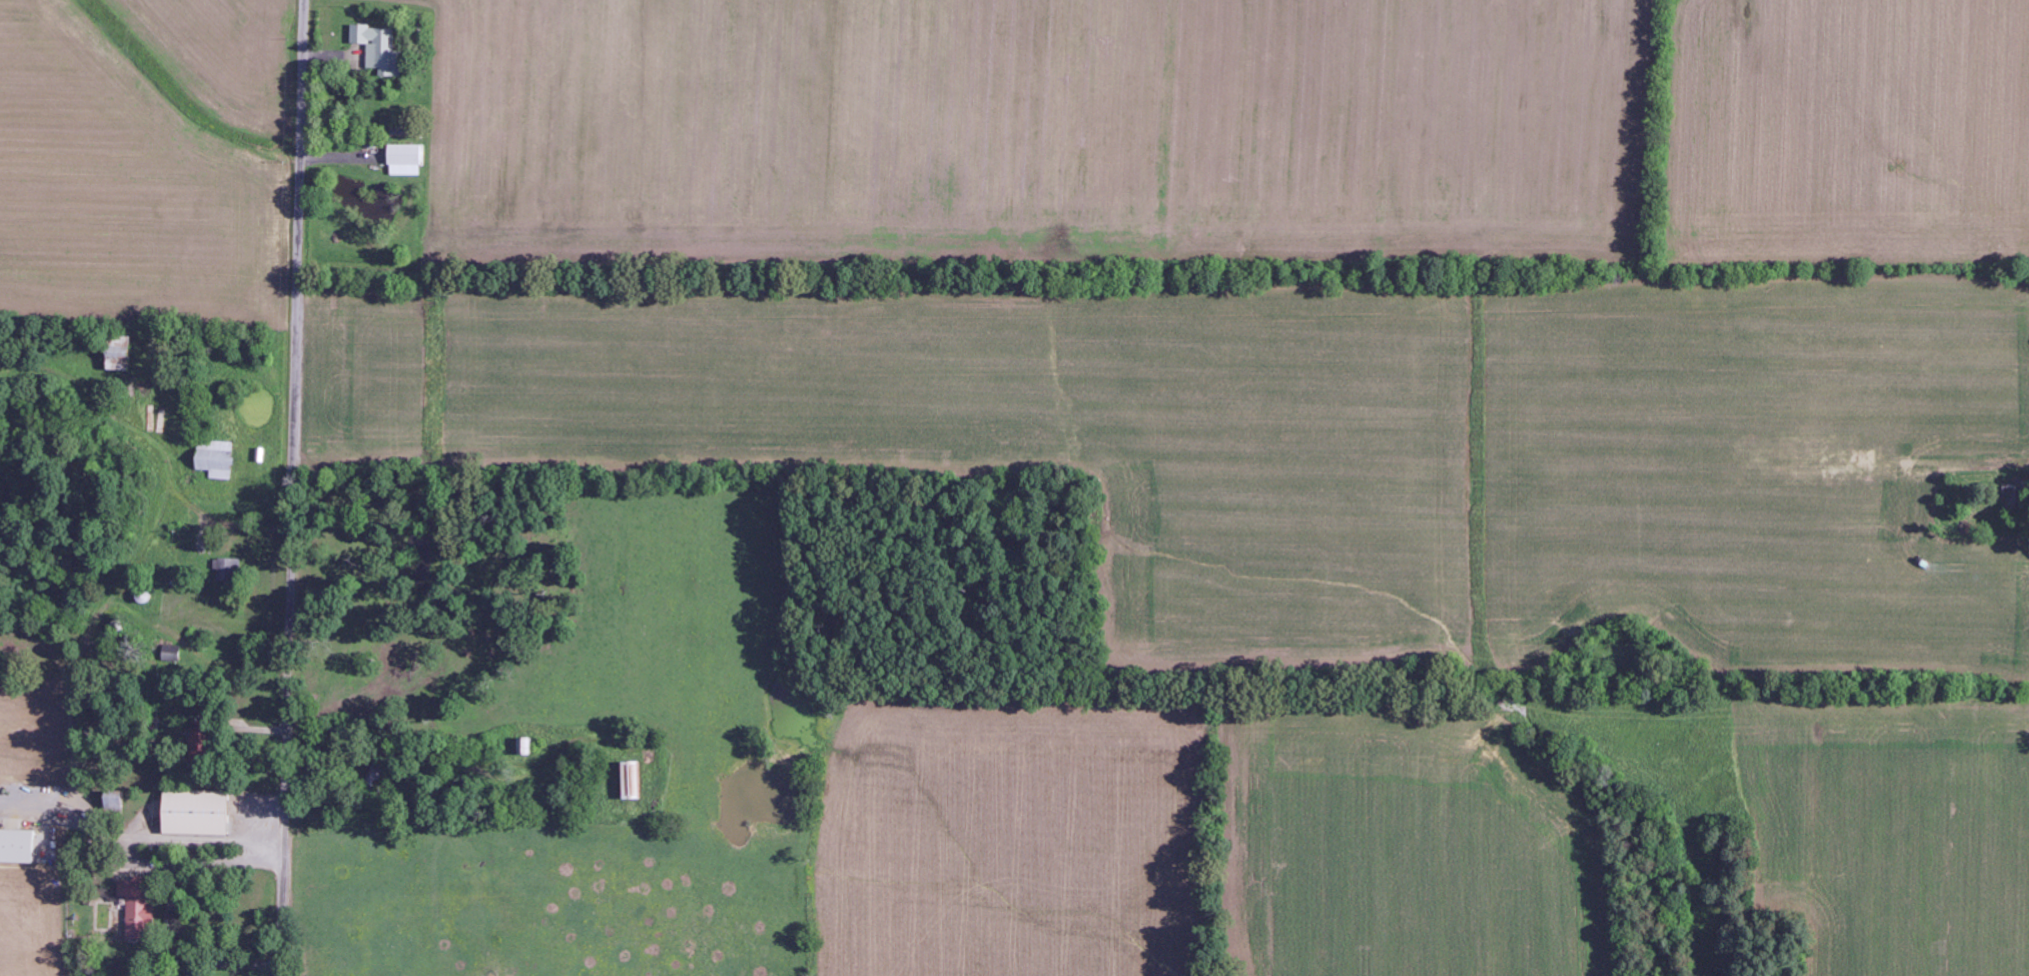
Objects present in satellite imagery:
building: (380, 49)
building: (406, 160)
building: (120, 354)
building: (216, 460)
road: (291, 487)
building: (2016, 498)
building: (228, 570)
building: (172, 654)
building: (201, 743)
building: (526, 747)
building: (632, 781)
building: (115, 802)
building: (196, 813)
building: (17, 847)
building: (138, 909)

